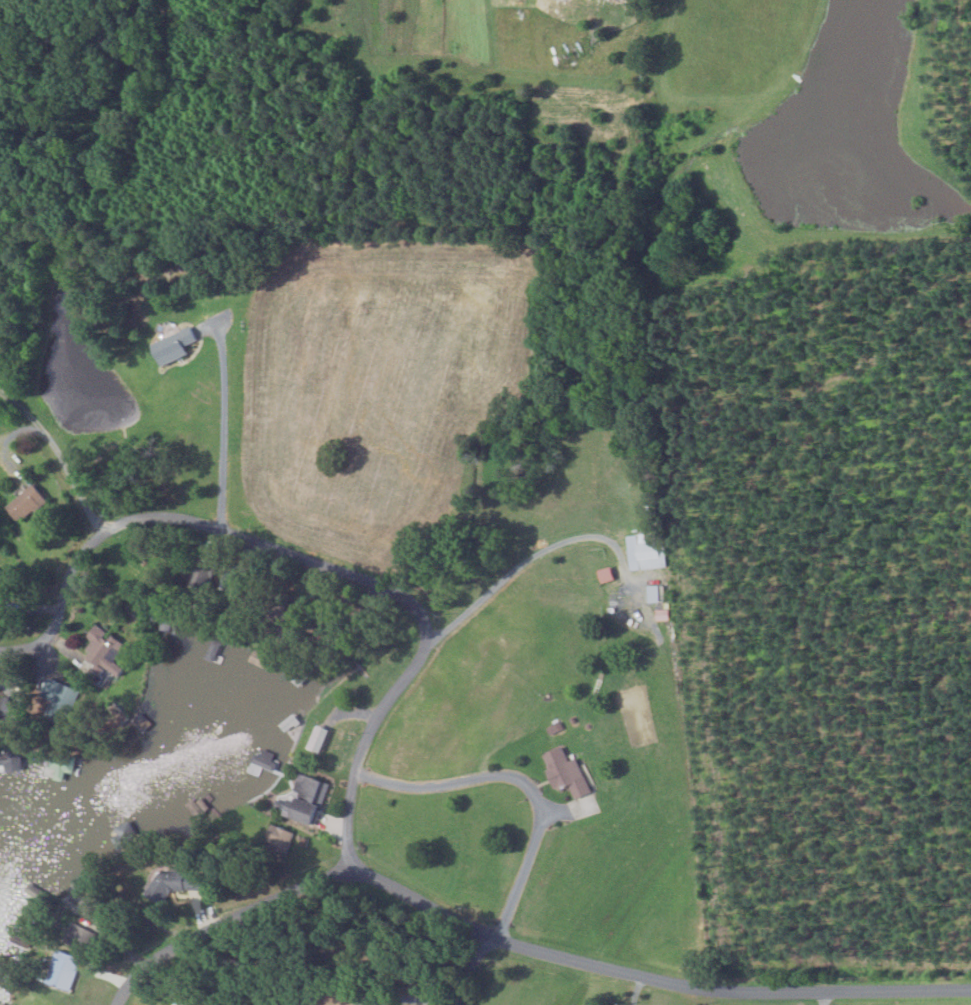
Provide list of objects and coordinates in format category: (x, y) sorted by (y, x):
building: (173, 345)
building: (24, 503)
building: (642, 550)
road: (315, 558)
building: (604, 574)
building: (653, 593)
building: (212, 649)
building: (103, 650)
building: (258, 659)
building: (58, 699)
building: (318, 738)
building: (264, 759)
building: (10, 761)
building: (58, 764)
building: (564, 772)
building: (305, 799)
building: (276, 840)
building: (165, 880)
building: (77, 937)
road: (516, 943)
building: (62, 970)
road: (823, 998)
building: (0, 1004)

